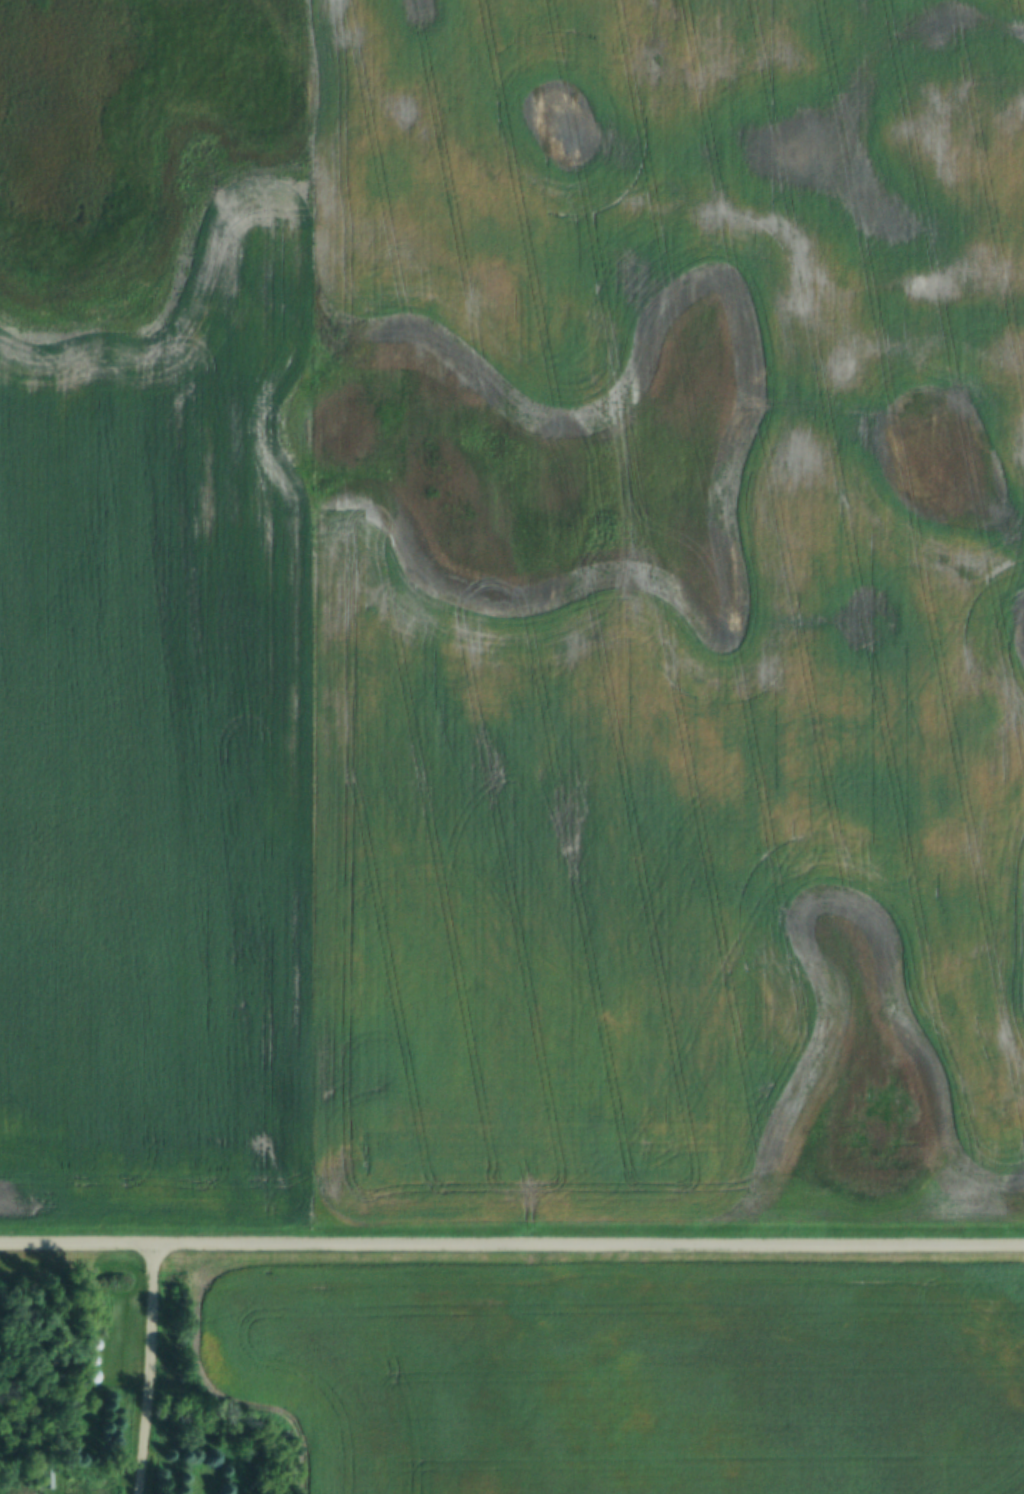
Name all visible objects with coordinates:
road: (511, 1248)
road: (150, 1371)

